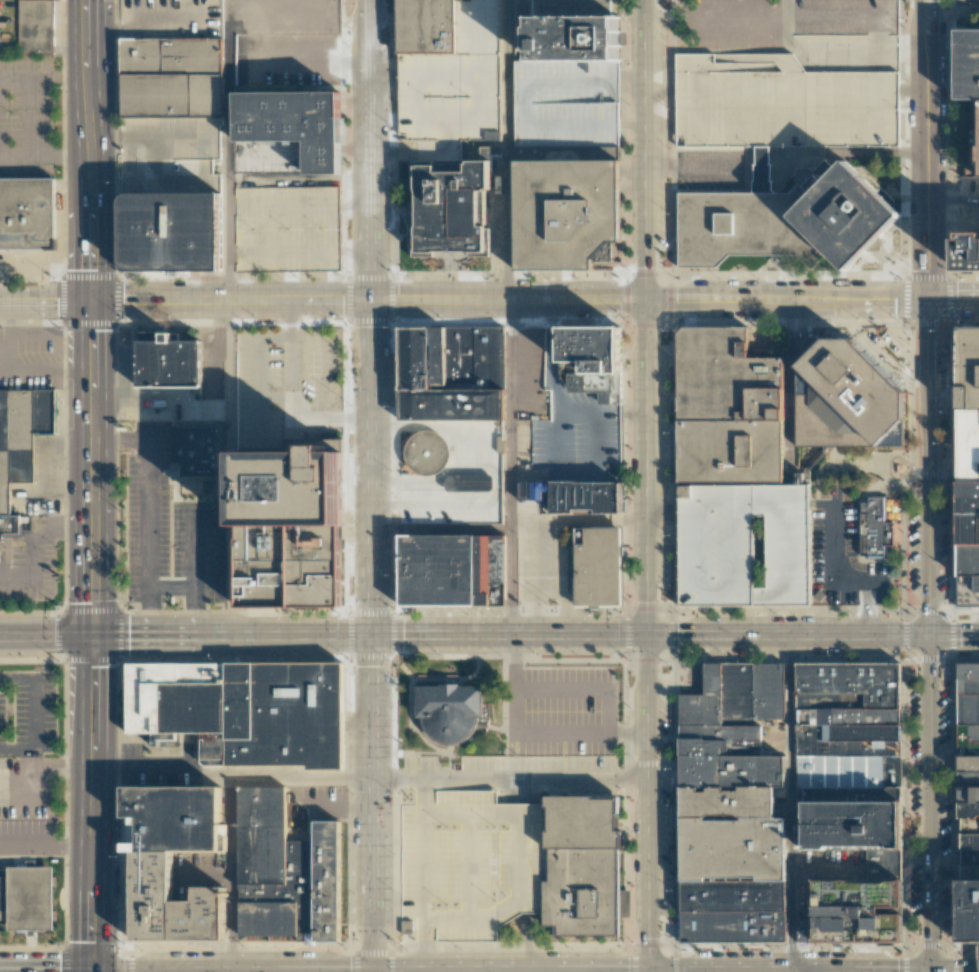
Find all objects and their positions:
road: (785, 8)
parking lot: (171, 18)
building: (429, 25)
building: (36, 26)
building: (573, 31)
road: (877, 49)
parking lot: (291, 61)
building: (967, 68)
parking lot: (786, 73)
building: (172, 78)
building: (457, 80)
parking lot: (457, 80)
building: (567, 103)
parking lot: (567, 103)
road: (29, 105)
building: (255, 111)
parking lot: (25, 118)
building: (974, 138)
road: (928, 148)
road: (368, 150)
road: (510, 150)
road: (646, 150)
road: (91, 151)
road: (229, 151)
building: (286, 154)
parking lot: (170, 155)
road: (45, 157)
road: (788, 164)
road: (299, 180)
parking lot: (967, 199)
building: (566, 206)
building: (452, 212)
building: (28, 215)
building: (782, 219)
building: (286, 229)
parking lot: (286, 229)
building: (172, 235)
building: (967, 252)
flagpole: (868, 268)
road: (955, 297)
traffic signals: (931, 298)
road: (510, 300)
traffic signals: (648, 300)
traffic signals: (369, 301)
road: (45, 302)
traffic signals: (91, 303)
road: (552, 347)
road: (289, 350)
building: (594, 351)
parking lot: (30, 357)
building: (171, 362)
road: (319, 364)
road: (257, 374)
building: (453, 375)
parking lot: (285, 386)
road: (791, 389)
building: (848, 398)
building: (731, 411)
road: (510, 416)
road: (308, 420)
road: (117, 439)
building: (21, 443)
road: (459, 452)
building: (428, 454)
building: (197, 464)
flagpole: (402, 464)
road: (648, 467)
building: (965, 467)
road: (91, 468)
road: (231, 468)
road: (370, 468)
fountain: (897, 468)
road: (479, 472)
road: (587, 476)
building: (475, 485)
building: (292, 486)
building: (588, 500)
road: (425, 511)
building: (876, 528)
road: (440, 531)
road: (34, 535)
parking lot: (164, 535)
road: (145, 537)
building: (746, 546)
parking lot: (746, 546)
parking lot: (843, 556)
parking lot: (28, 560)
parking lot: (541, 563)
building: (288, 567)
building: (597, 569)
road: (833, 569)
building: (450, 573)
road: (193, 574)
road: (538, 580)
road: (27, 581)
road: (511, 583)
road: (170, 587)
road: (565, 600)
flagpole: (550, 603)
road: (866, 609)
street lamp: (978, 615)
road: (45, 634)
traffic signals: (91, 634)
road: (934, 634)
traffic signals: (935, 634)
road: (957, 634)
road: (230, 635)
traffic signals: (371, 635)
road: (509, 635)
road: (792, 635)
traffic signals: (649, 636)
flagpole: (479, 676)
road: (556, 686)
road: (601, 686)
road: (512, 687)
building: (734, 701)
building: (453, 709)
parking lot: (564, 710)
building: (245, 711)
road: (30, 713)
parking lot: (27, 714)
building: (851, 729)
road: (581, 737)
parking lot: (541, 763)
building: (968, 772)
road: (161, 778)
road: (302, 779)
road: (511, 780)
parking lot: (26, 788)
street lamp: (940, 788)
parking lot: (321, 798)
road: (91, 802)
road: (651, 802)
road: (792, 802)
road: (372, 803)
road: (469, 813)
building: (856, 822)
parking lot: (26, 837)
road: (45, 847)
building: (731, 849)
building: (179, 858)
building: (884, 860)
parking lot: (467, 862)
road: (465, 863)
building: (586, 866)
parking lot: (825, 867)
building: (286, 870)
road: (420, 874)
road: (233, 875)
building: (28, 898)
road: (510, 902)
building: (968, 908)
building: (865, 909)
building: (802, 923)
building: (406, 926)
road: (371, 970)
traffic signals: (373, 970)
traffic signals: (652, 970)
road: (791, 970)
road: (45, 971)
road: (91, 971)
traffic signals: (91, 971)
road: (195, 971)
road: (439, 971)
road: (652, 971)
road: (792, 971)
road: (930, 971)
traffic signals: (930, 971)
road: (954, 971)

